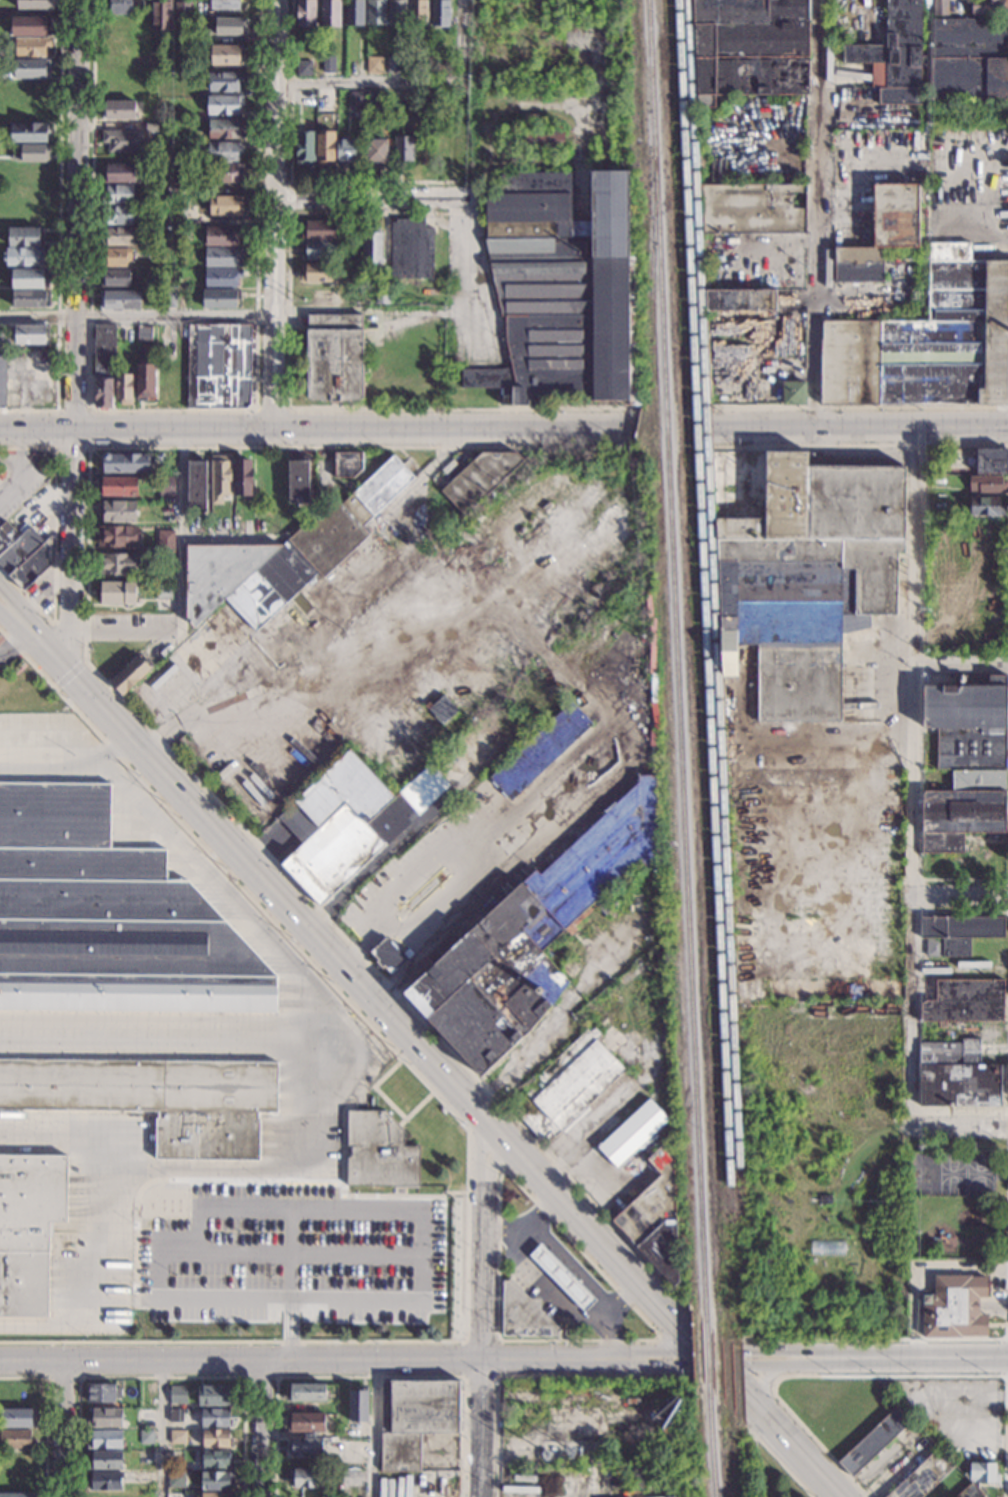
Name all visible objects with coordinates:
building: (37, 4)
building: (224, 5)
building: (118, 7)
building: (142, 7)
building: (939, 7)
building: (989, 7)
building: (183, 12)
building: (375, 12)
building: (397, 12)
building: (329, 13)
building: (354, 13)
building: (417, 13)
building: (440, 13)
building: (305, 14)
building: (161, 15)
building: (30, 27)
building: (226, 27)
building: (30, 47)
building: (748, 50)
building: (226, 55)
building: (894, 55)
building: (969, 59)
building: (329, 64)
building: (394, 65)
building: (374, 66)
building: (303, 68)
building: (32, 69)
building: (225, 81)
road: (370, 83)
building: (309, 97)
building: (324, 98)
building: (375, 99)
building: (357, 100)
building: (224, 105)
building: (117, 111)
building: (198, 114)
building: (150, 128)
building: (226, 129)
building: (31, 133)
building: (122, 141)
building: (533, 141)
building: (325, 147)
building: (305, 148)
building: (402, 150)
building: (224, 151)
building: (346, 151)
building: (376, 152)
building: (34, 153)
building: (119, 173)
building: (228, 173)
road: (290, 176)
building: (175, 188)
building: (118, 194)
road: (289, 197)
road: (372, 198)
railway: (656, 200)
building: (225, 205)
building: (753, 210)
road: (77, 214)
road: (275, 214)
road: (816, 214)
building: (118, 215)
building: (177, 217)
building: (318, 230)
road: (58, 233)
building: (881, 234)
building: (222, 236)
building: (25, 237)
building: (119, 237)
building: (372, 245)
building: (318, 250)
building: (410, 250)
building: (23, 257)
building: (116, 257)
building: (223, 257)
building: (317, 272)
road: (470, 276)
building: (29, 278)
building: (221, 278)
building: (115, 279)
building: (562, 291)
building: (382, 296)
building: (220, 298)
building: (30, 299)
building: (168, 299)
building: (118, 300)
building: (740, 300)
railway: (651, 306)
road: (239, 313)
building: (144, 333)
building: (31, 334)
building: (927, 342)
building: (334, 357)
building: (103, 366)
building: (219, 367)
building: (3, 368)
building: (145, 381)
building: (123, 388)
road: (287, 388)
building: (793, 393)
road: (859, 408)
road: (269, 409)
road: (170, 411)
railway: (667, 428)
road: (37, 429)
road: (355, 429)
road: (861, 429)
road: (860, 446)
road: (87, 448)
building: (934, 458)
building: (991, 461)
building: (126, 463)
building: (346, 464)
road: (18, 465)
road: (9, 466)
building: (219, 478)
building: (243, 478)
building: (150, 479)
building: (479, 479)
building: (297, 481)
building: (985, 484)
building: (118, 486)
building: (195, 486)
building: (166, 487)
building: (985, 506)
building: (938, 509)
building: (117, 512)
road: (182, 532)
building: (116, 537)
road: (232, 541)
building: (165, 542)
road: (53, 545)
road: (71, 549)
building: (23, 555)
building: (116, 564)
building: (802, 570)
building: (269, 575)
building: (164, 591)
building: (118, 593)
road: (19, 610)
railway: (703, 615)
railway: (713, 615)
road: (18, 626)
road: (124, 630)
road: (69, 641)
road: (18, 646)
road: (961, 666)
road: (69, 674)
building: (130, 675)
building: (441, 709)
building: (968, 723)
building: (540, 751)
road: (68, 766)
road: (912, 778)
building: (963, 810)
building: (348, 821)
road: (854, 825)
road: (496, 872)
road: (959, 879)
railway: (685, 887)
road: (959, 893)
road: (315, 906)
road: (959, 911)
building: (108, 918)
building: (956, 934)
building: (528, 937)
building: (387, 956)
building: (812, 957)
building: (977, 963)
road: (402, 974)
road: (375, 999)
building: (965, 1001)
road: (301, 1021)
road: (150, 1040)
road: (517, 1063)
building: (956, 1076)
building: (566, 1086)
road: (377, 1090)
building: (157, 1098)
road: (422, 1102)
road: (401, 1122)
road: (464, 1126)
road: (958, 1126)
building: (632, 1134)
road: (485, 1150)
building: (379, 1151)
road: (182, 1179)
road: (358, 1194)
park: (957, 1197)
building: (825, 1200)
road: (294, 1205)
building: (654, 1216)
road: (95, 1226)
building: (28, 1228)
road: (502, 1241)
road: (579, 1248)
road: (294, 1250)
road: (315, 1252)
building: (561, 1278)
road: (547, 1290)
road: (227, 1295)
road: (357, 1296)
road: (483, 1308)
building: (953, 1308)
building: (522, 1315)
road: (610, 1339)
railway: (705, 1353)
road: (1005, 1357)
road: (357, 1360)
road: (751, 1360)
road: (898, 1360)
traffic signals: (715, 1361)
road: (46, 1375)
road: (497, 1375)
road: (753, 1375)
road: (873, 1375)
road: (536, 1376)
road: (243, 1377)
road: (160, 1378)
road: (370, 1378)
road: (763, 1380)
road: (763, 1389)
building: (103, 1393)
building: (306, 1393)
building: (178, 1395)
building: (214, 1396)
building: (358, 1406)
road: (45, 1414)
building: (145, 1416)
building: (176, 1416)
building: (18, 1418)
building: (105, 1418)
building: (216, 1418)
building: (414, 1419)
building: (308, 1422)
road: (64, 1428)
road: (260, 1428)
road: (778, 1428)
road: (164, 1429)
road: (375, 1429)
road: (752, 1435)
building: (146, 1437)
building: (177, 1437)
building: (16, 1439)
building: (104, 1439)
building: (215, 1439)
railway: (712, 1441)
building: (873, 1441)
building: (304, 1447)
building: (215, 1460)
building: (105, 1461)
building: (983, 1473)
building: (923, 1477)
building: (305, 1479)
building: (175, 1480)
building: (106, 1481)
building: (216, 1481)
building: (970, 1491)
building: (15, 1495)
building: (174, 1495)
building: (214, 1495)
building: (955, 1496)

